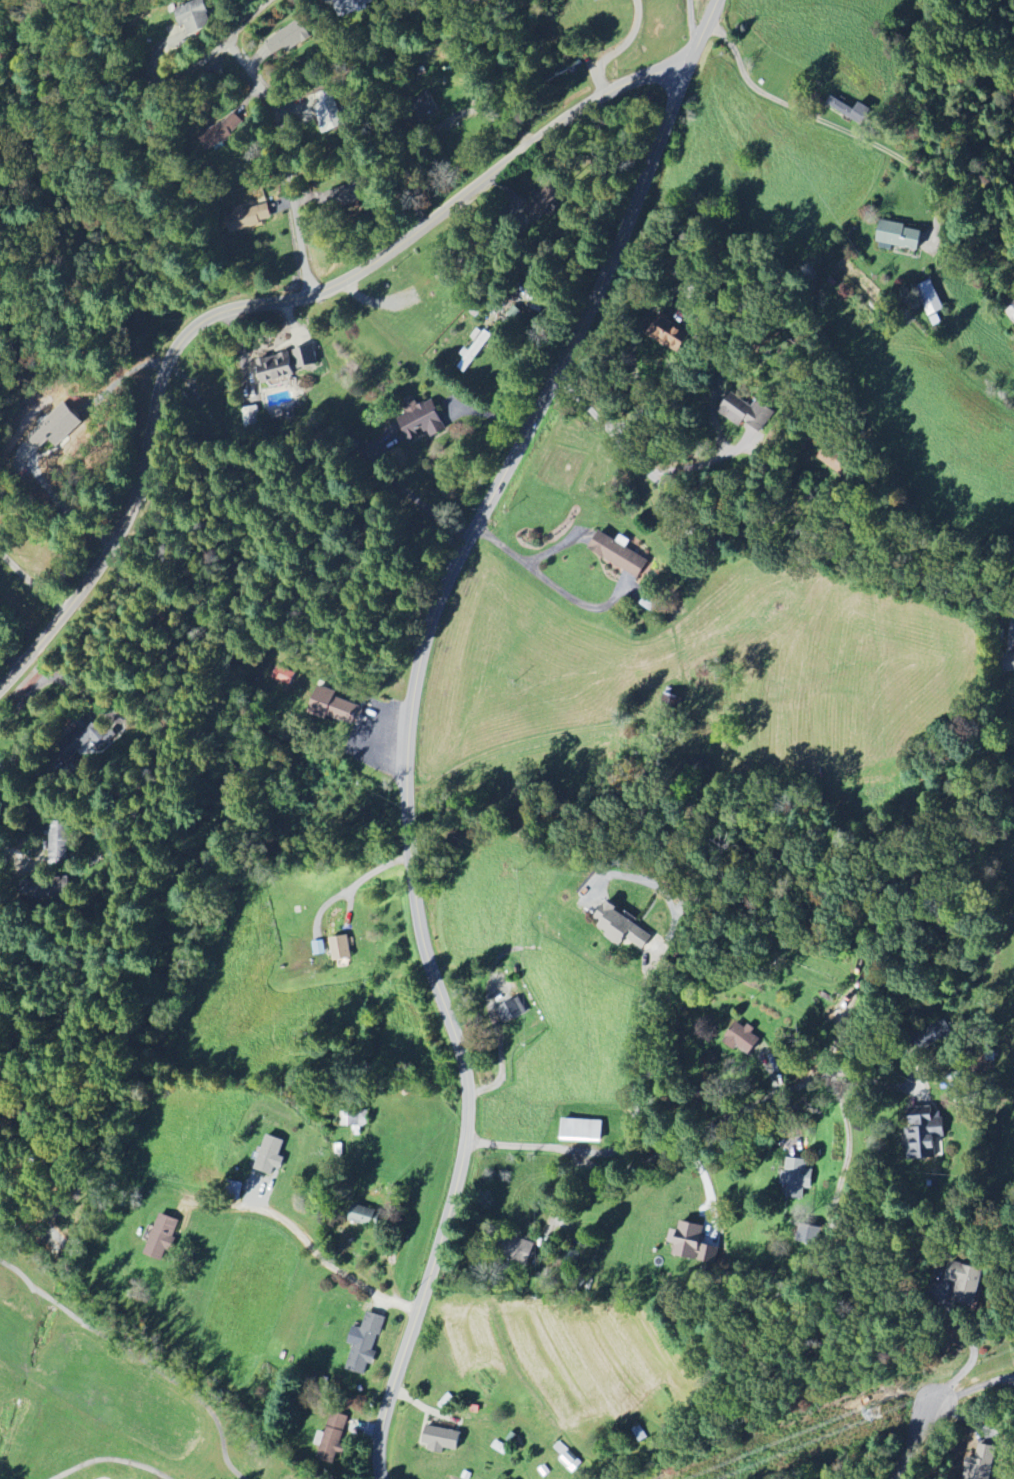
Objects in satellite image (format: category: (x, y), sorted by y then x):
building: (597, 0)
road: (1008, 2)
building: (349, 6)
building: (194, 17)
road: (691, 23)
road: (619, 48)
road: (144, 54)
building: (849, 111)
building: (328, 115)
road: (820, 120)
road: (287, 161)
building: (248, 215)
building: (900, 237)
road: (300, 298)
building: (929, 298)
road: (695, 304)
building: (669, 336)
building: (474, 350)
building: (746, 413)
building: (252, 417)
building: (422, 423)
building: (54, 431)
road: (708, 461)
building: (836, 463)
road: (789, 509)
road: (760, 539)
building: (619, 554)
road: (31, 582)
road: (551, 583)
road: (11, 657)
road: (72, 692)
building: (335, 707)
road: (410, 757)
building: (58, 842)
road: (361, 879)
building: (622, 928)
building: (340, 948)
road: (870, 960)
building: (505, 1010)
building: (742, 1039)
road: (500, 1051)
road: (633, 1082)
building: (581, 1131)
building: (923, 1133)
road: (850, 1145)
road: (663, 1154)
building: (270, 1156)
building: (796, 1178)
road: (559, 1202)
building: (363, 1215)
building: (809, 1234)
building: (162, 1237)
road: (306, 1238)
building: (689, 1242)
building: (517, 1250)
building: (966, 1284)
building: (364, 1343)
road: (973, 1348)
road: (975, 1386)
park: (110, 1392)
road: (423, 1404)
power tower: (877, 1416)
building: (333, 1437)
building: (440, 1440)
road: (916, 1441)
building: (981, 1463)

